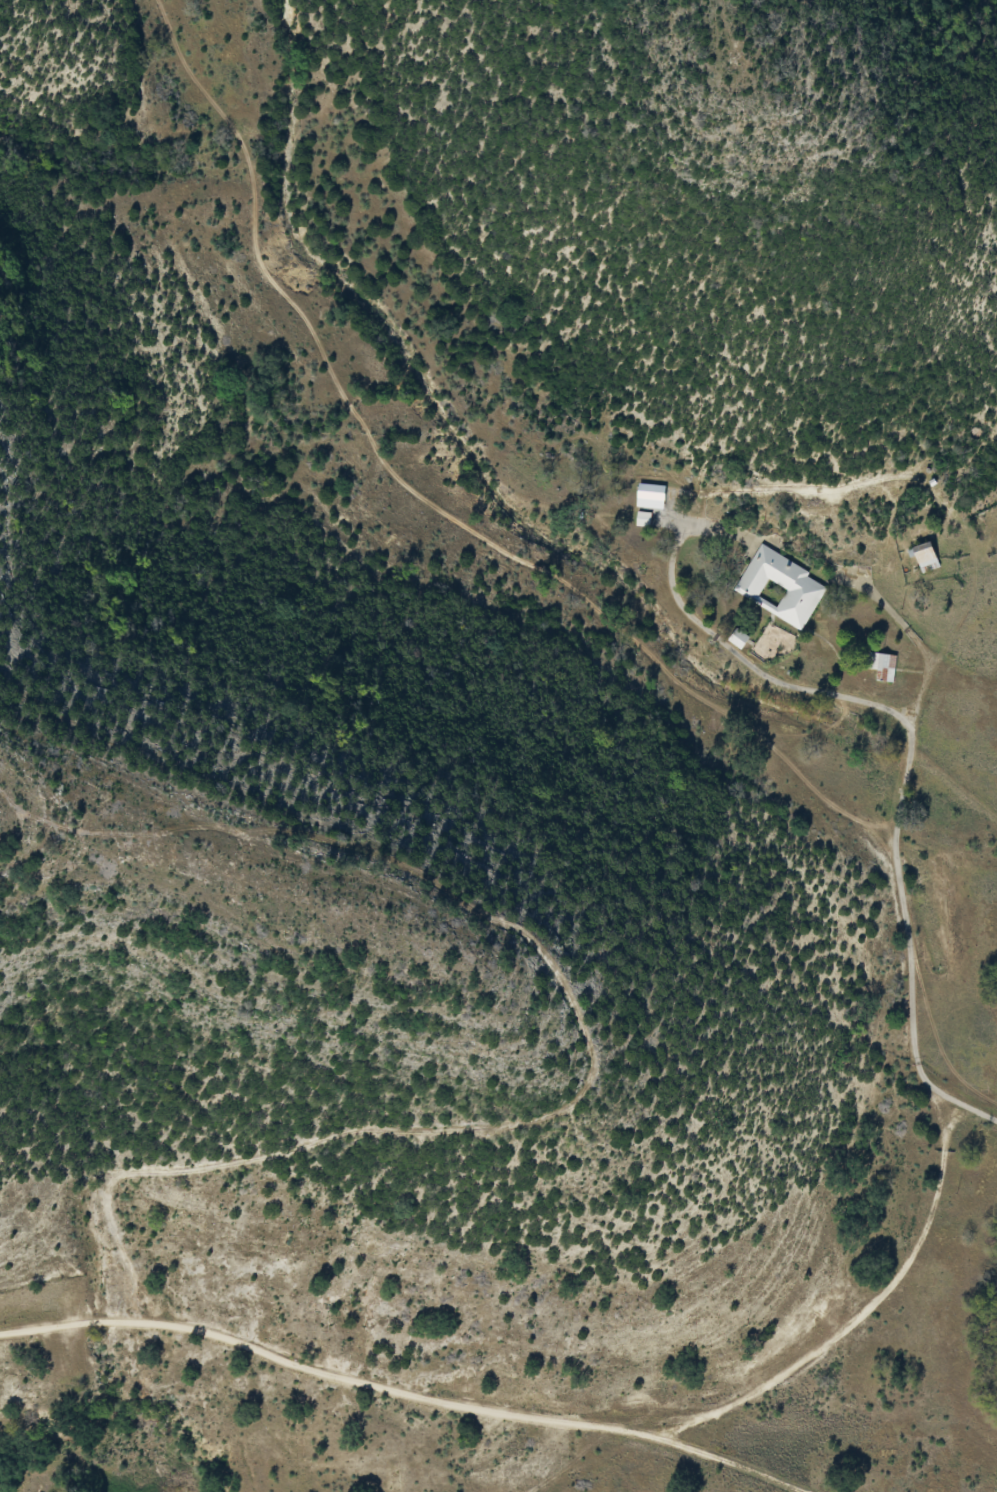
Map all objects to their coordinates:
building: (645, 497)
road: (975, 512)
building: (919, 559)
building: (778, 586)
building: (879, 667)
road: (962, 1005)
road: (958, 1094)

